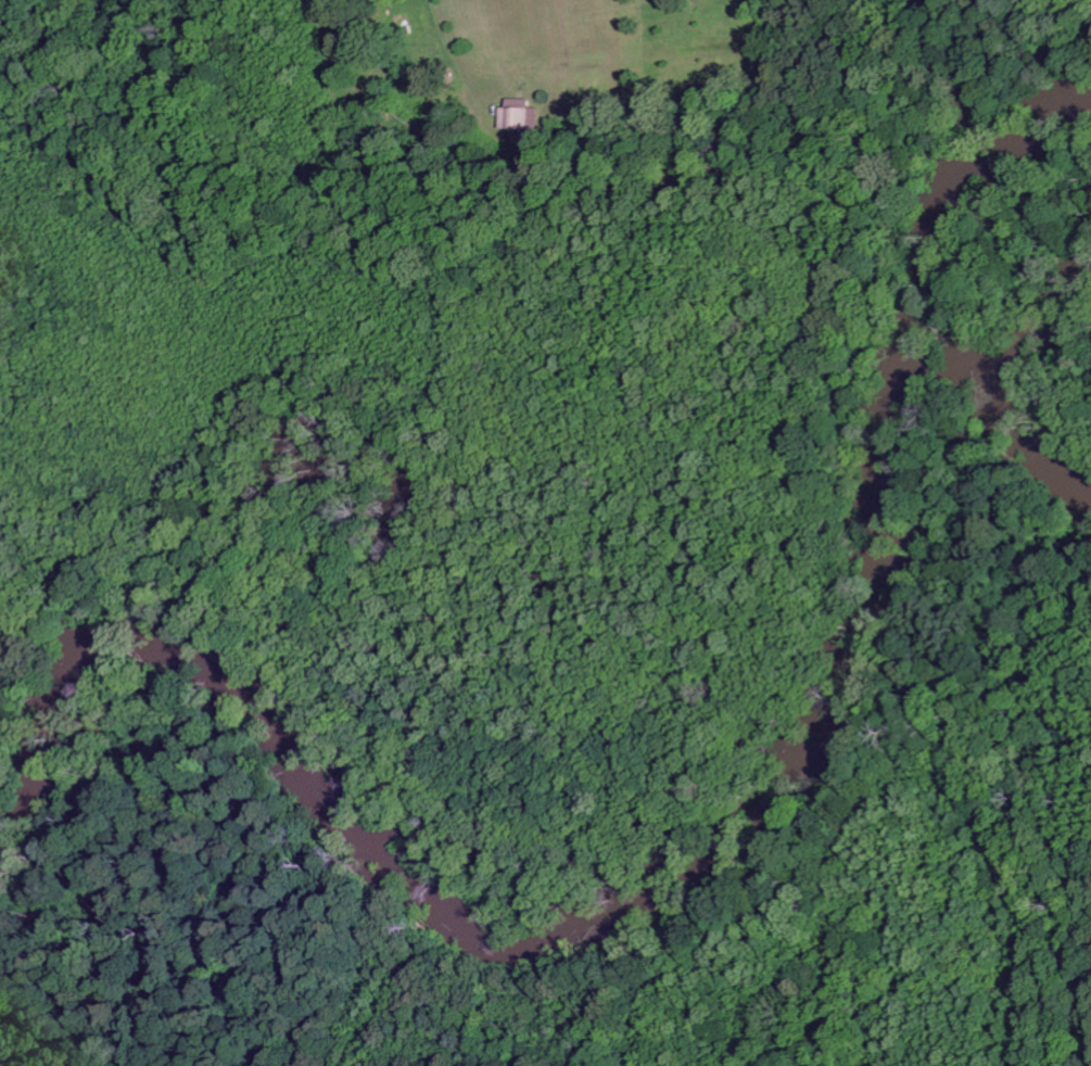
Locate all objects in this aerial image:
building: (524, 115)
river: (1037, 384)
river: (672, 902)

